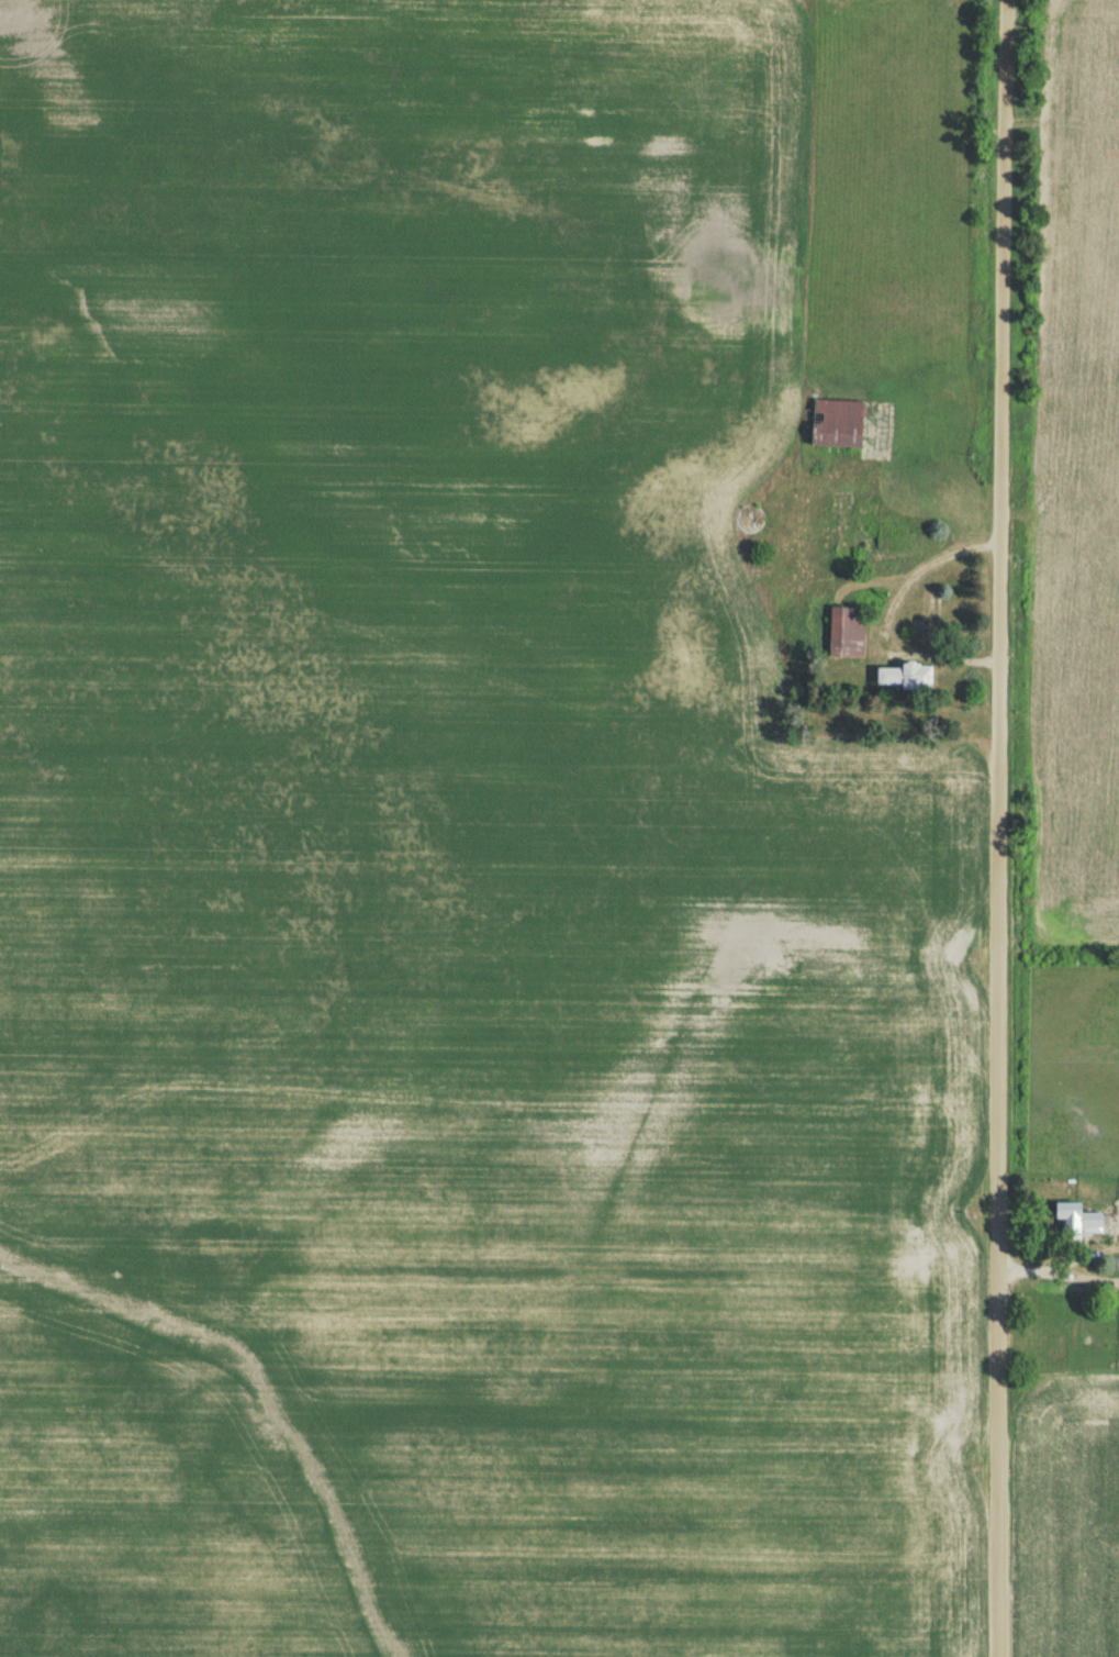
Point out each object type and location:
building: (830, 427)
road: (884, 623)
building: (843, 637)
building: (897, 681)
road: (1003, 828)
building: (1073, 1224)
road: (1063, 1279)

